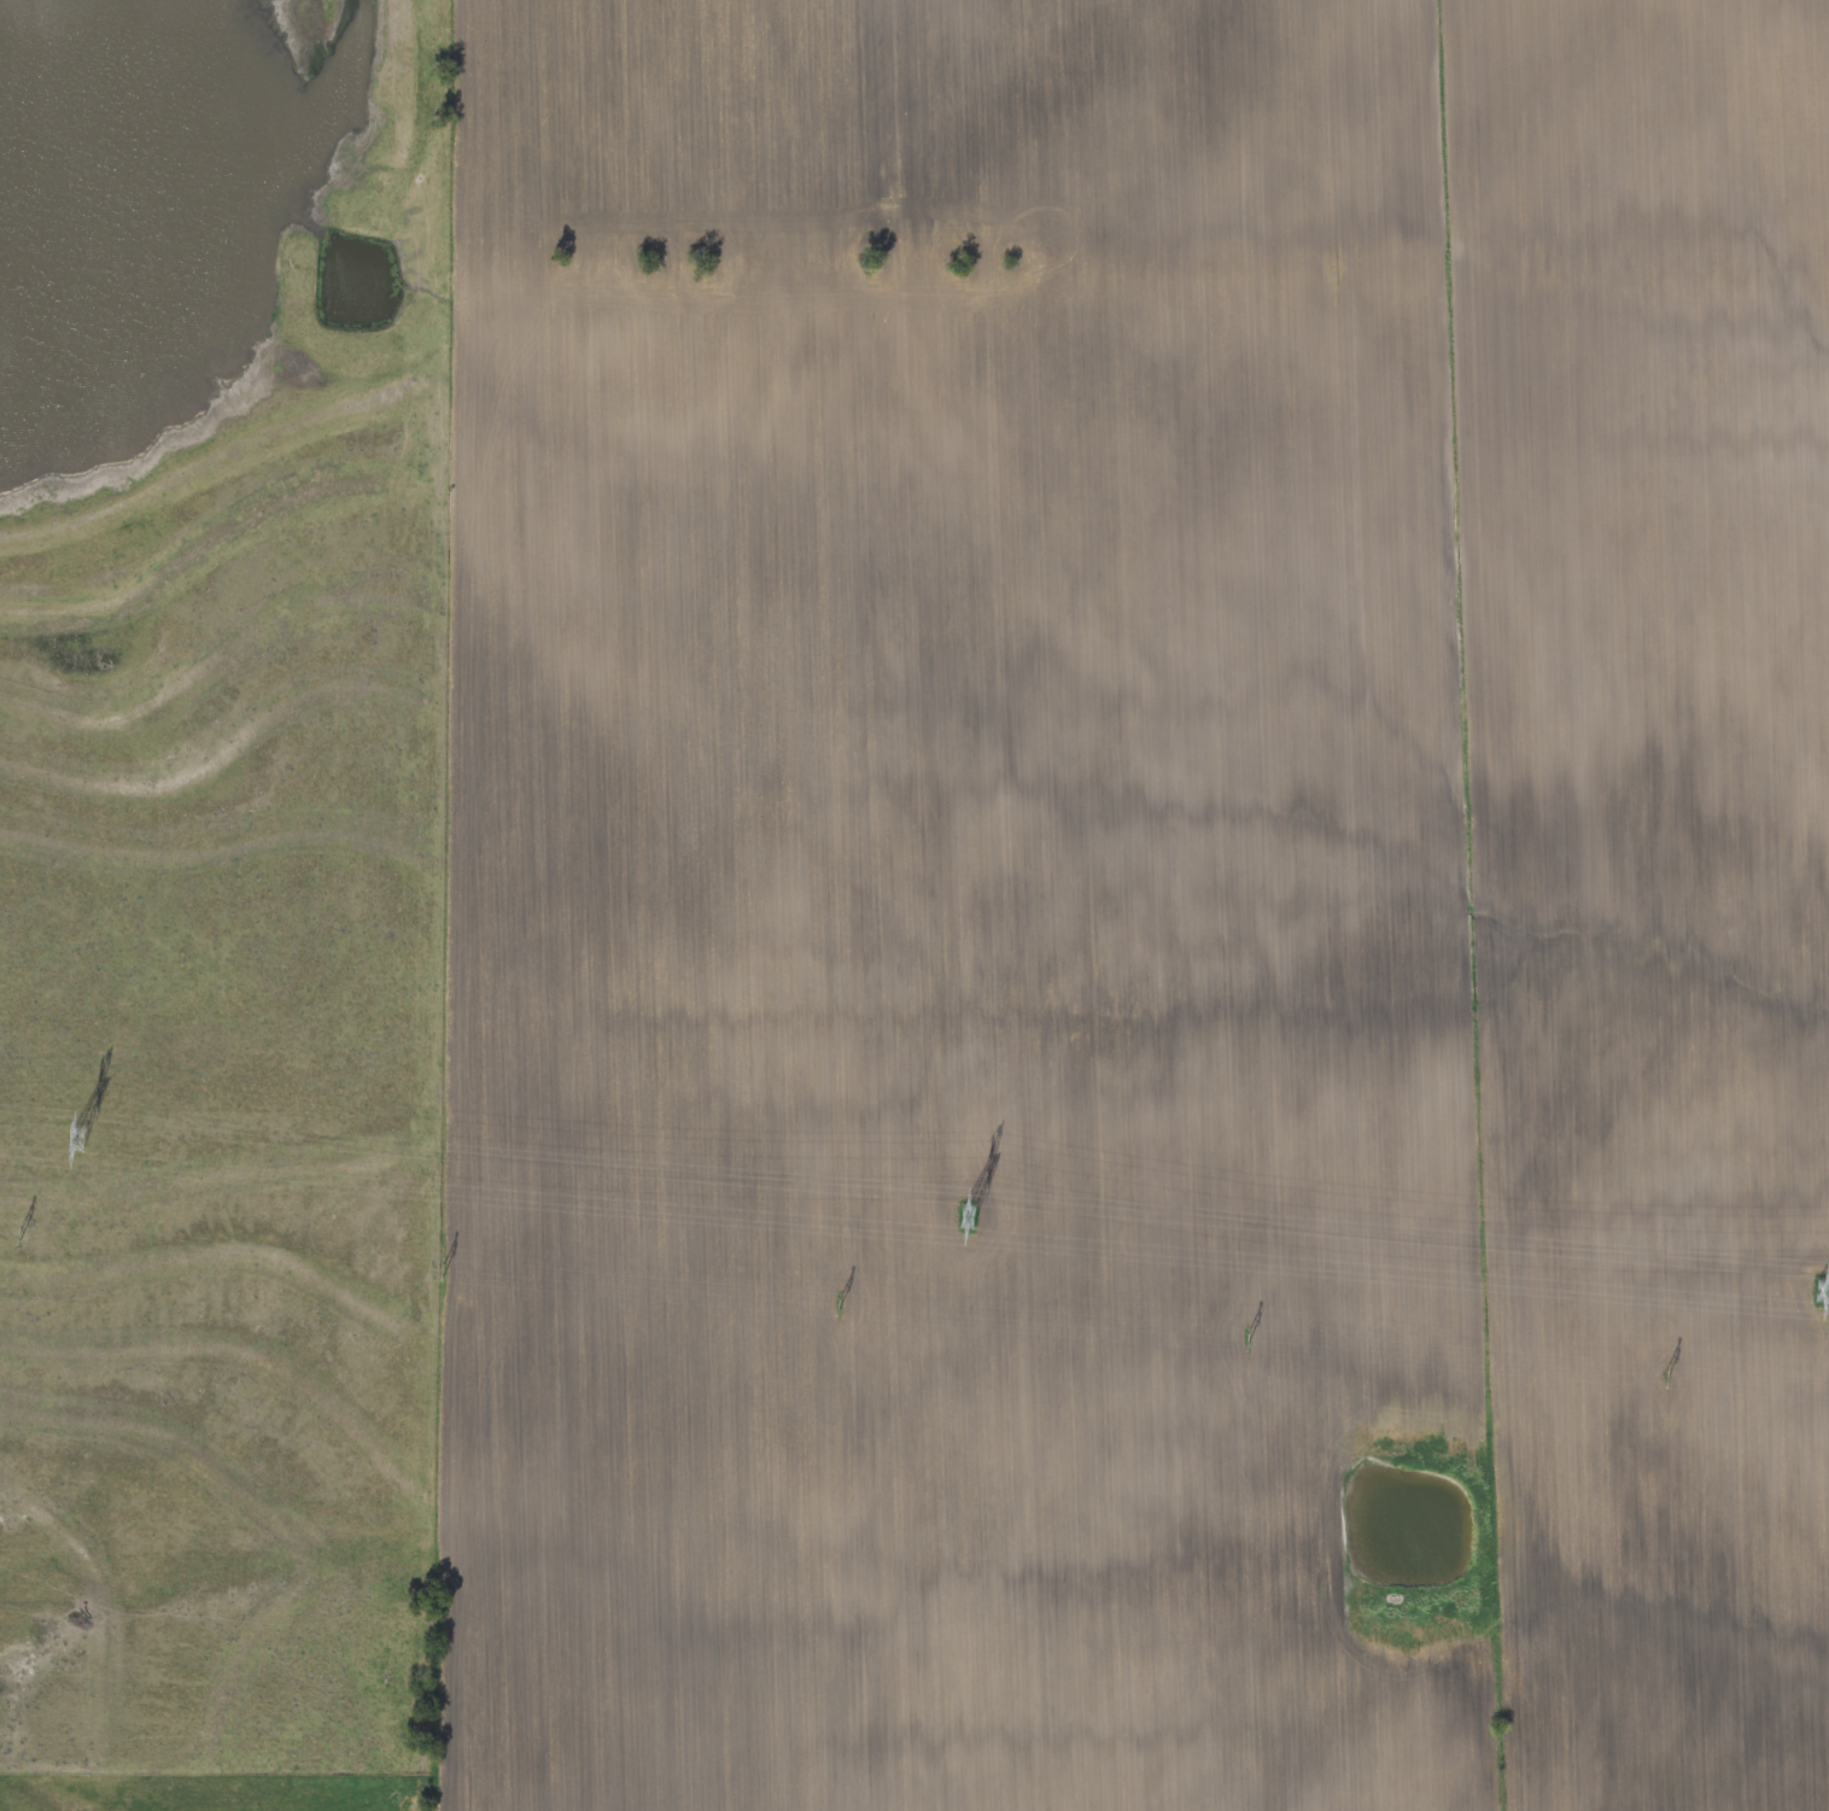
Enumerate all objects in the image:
power tower: (77, 1140)
power tower: (965, 1216)
power tower: (1822, 1291)

